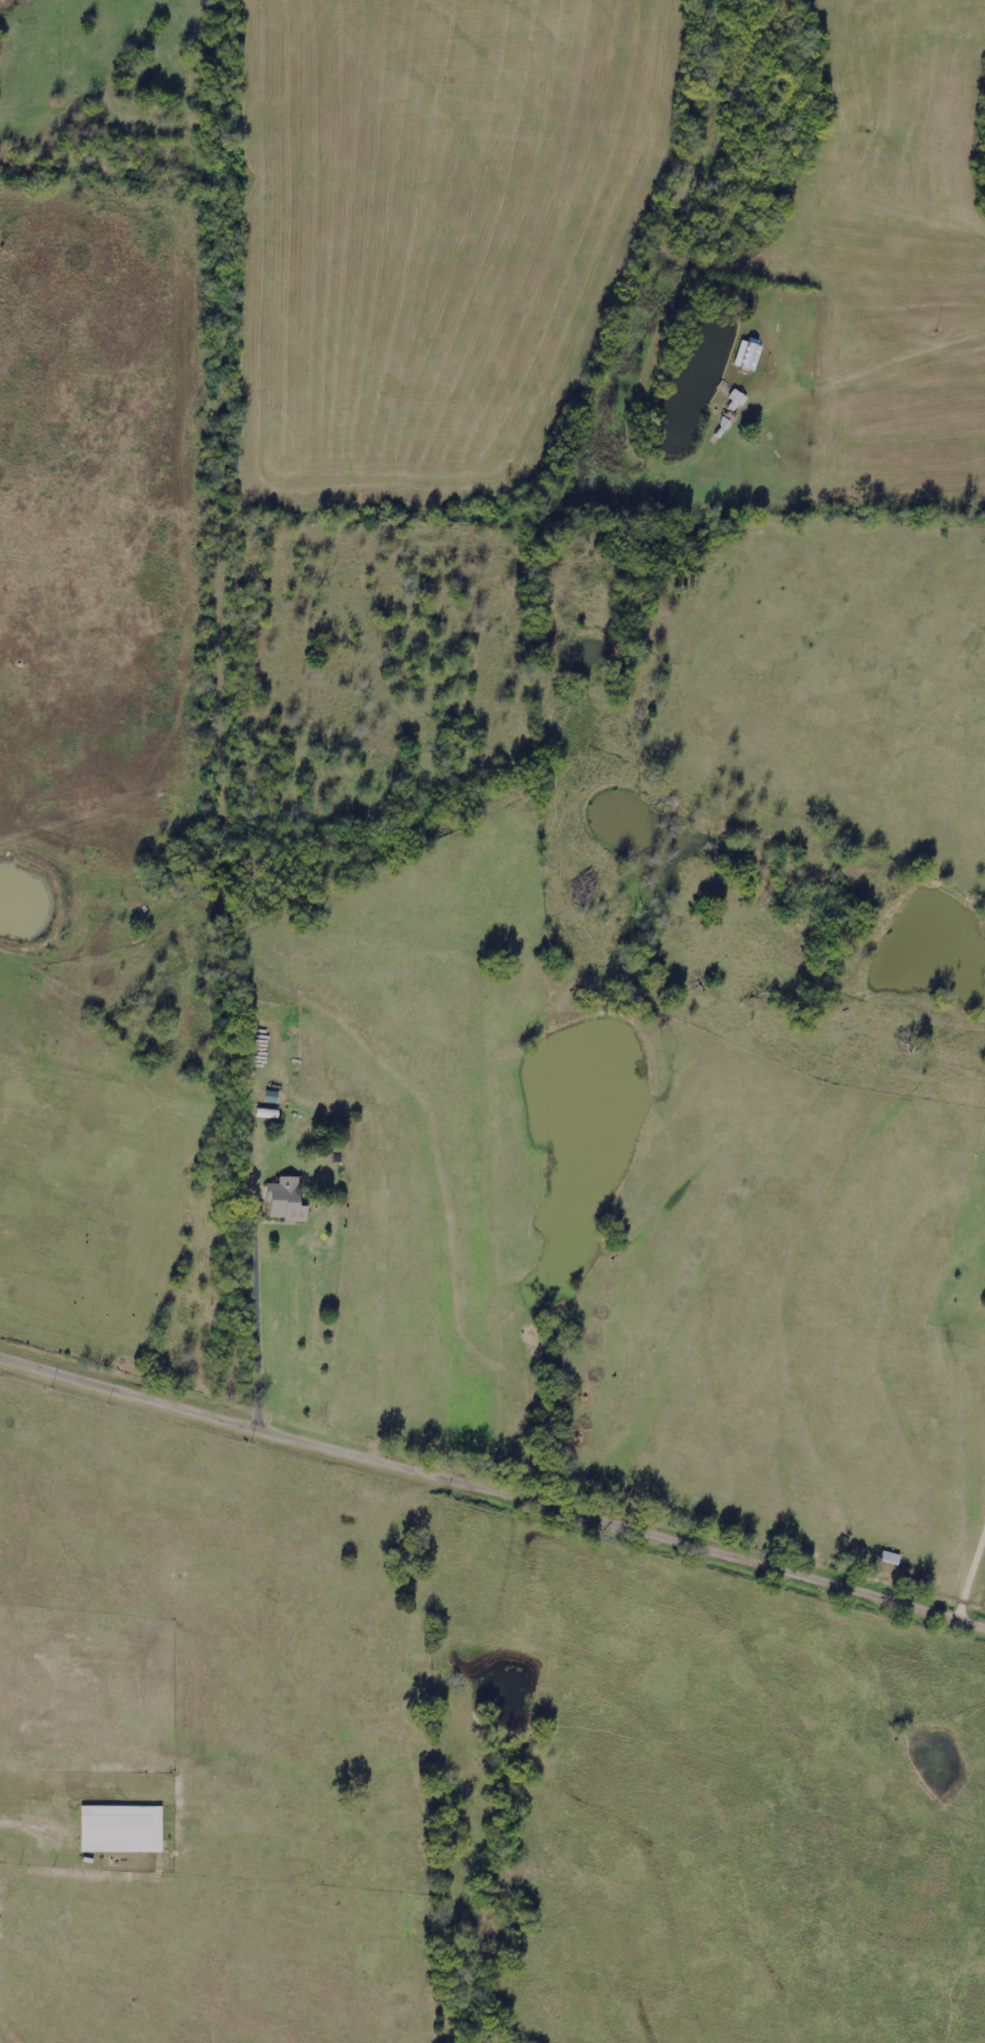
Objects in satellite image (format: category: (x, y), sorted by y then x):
building: (749, 355)
building: (287, 1200)
road: (492, 1493)
road: (969, 1577)
building: (123, 1830)

